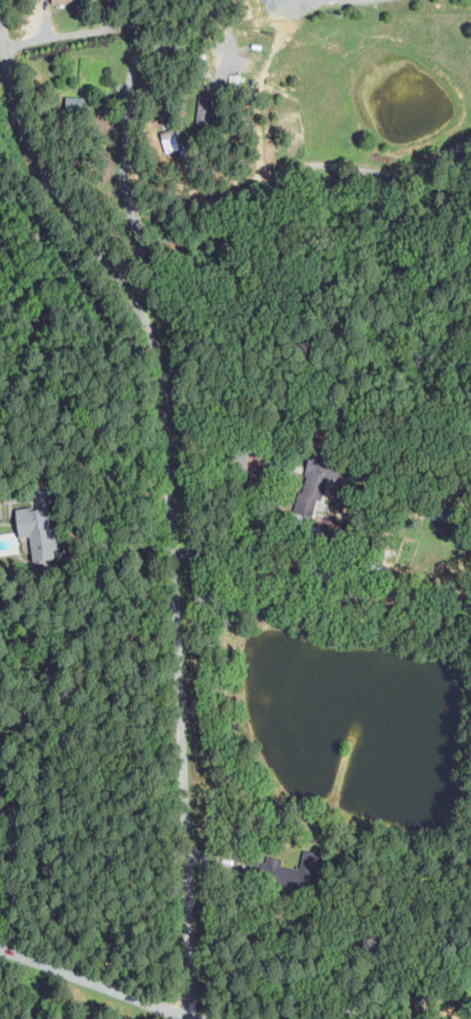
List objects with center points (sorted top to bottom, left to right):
building: (74, 2)
road: (45, 19)
road: (137, 25)
road: (4, 63)
building: (204, 70)
building: (201, 76)
building: (235, 81)
building: (118, 86)
building: (111, 99)
building: (74, 102)
road: (127, 104)
building: (206, 115)
building: (76, 118)
building: (169, 141)
building: (188, 155)
road: (282, 171)
road: (109, 471)
building: (312, 485)
road: (266, 494)
building: (37, 531)
road: (176, 603)
building: (291, 868)
road: (339, 1012)
road: (193, 1017)
road: (195, 1017)

